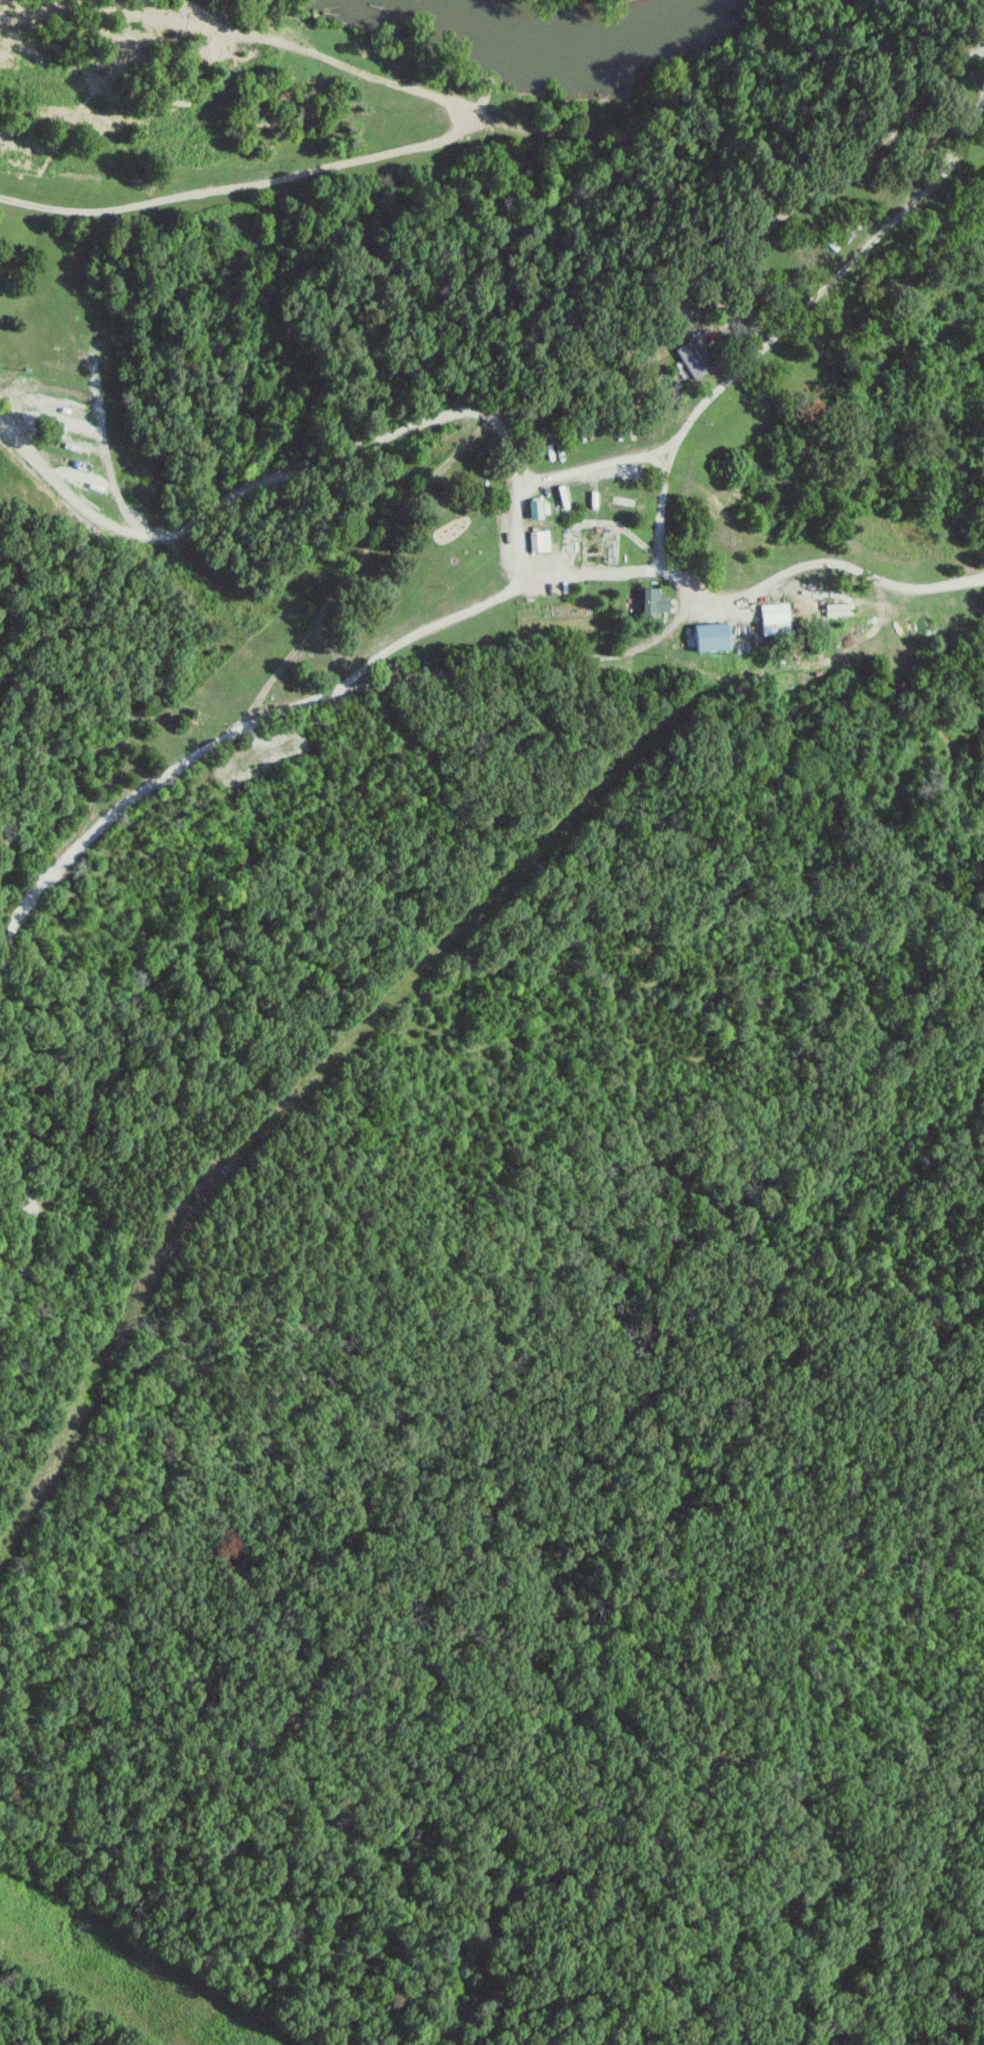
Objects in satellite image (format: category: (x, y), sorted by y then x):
river: (548, 57)
building: (688, 360)
road: (718, 380)
road: (670, 441)
building: (530, 508)
road: (513, 530)
building: (535, 541)
road: (654, 547)
road: (803, 558)
road: (487, 595)
building: (647, 602)
building: (769, 618)
building: (707, 637)
road: (15, 1259)

